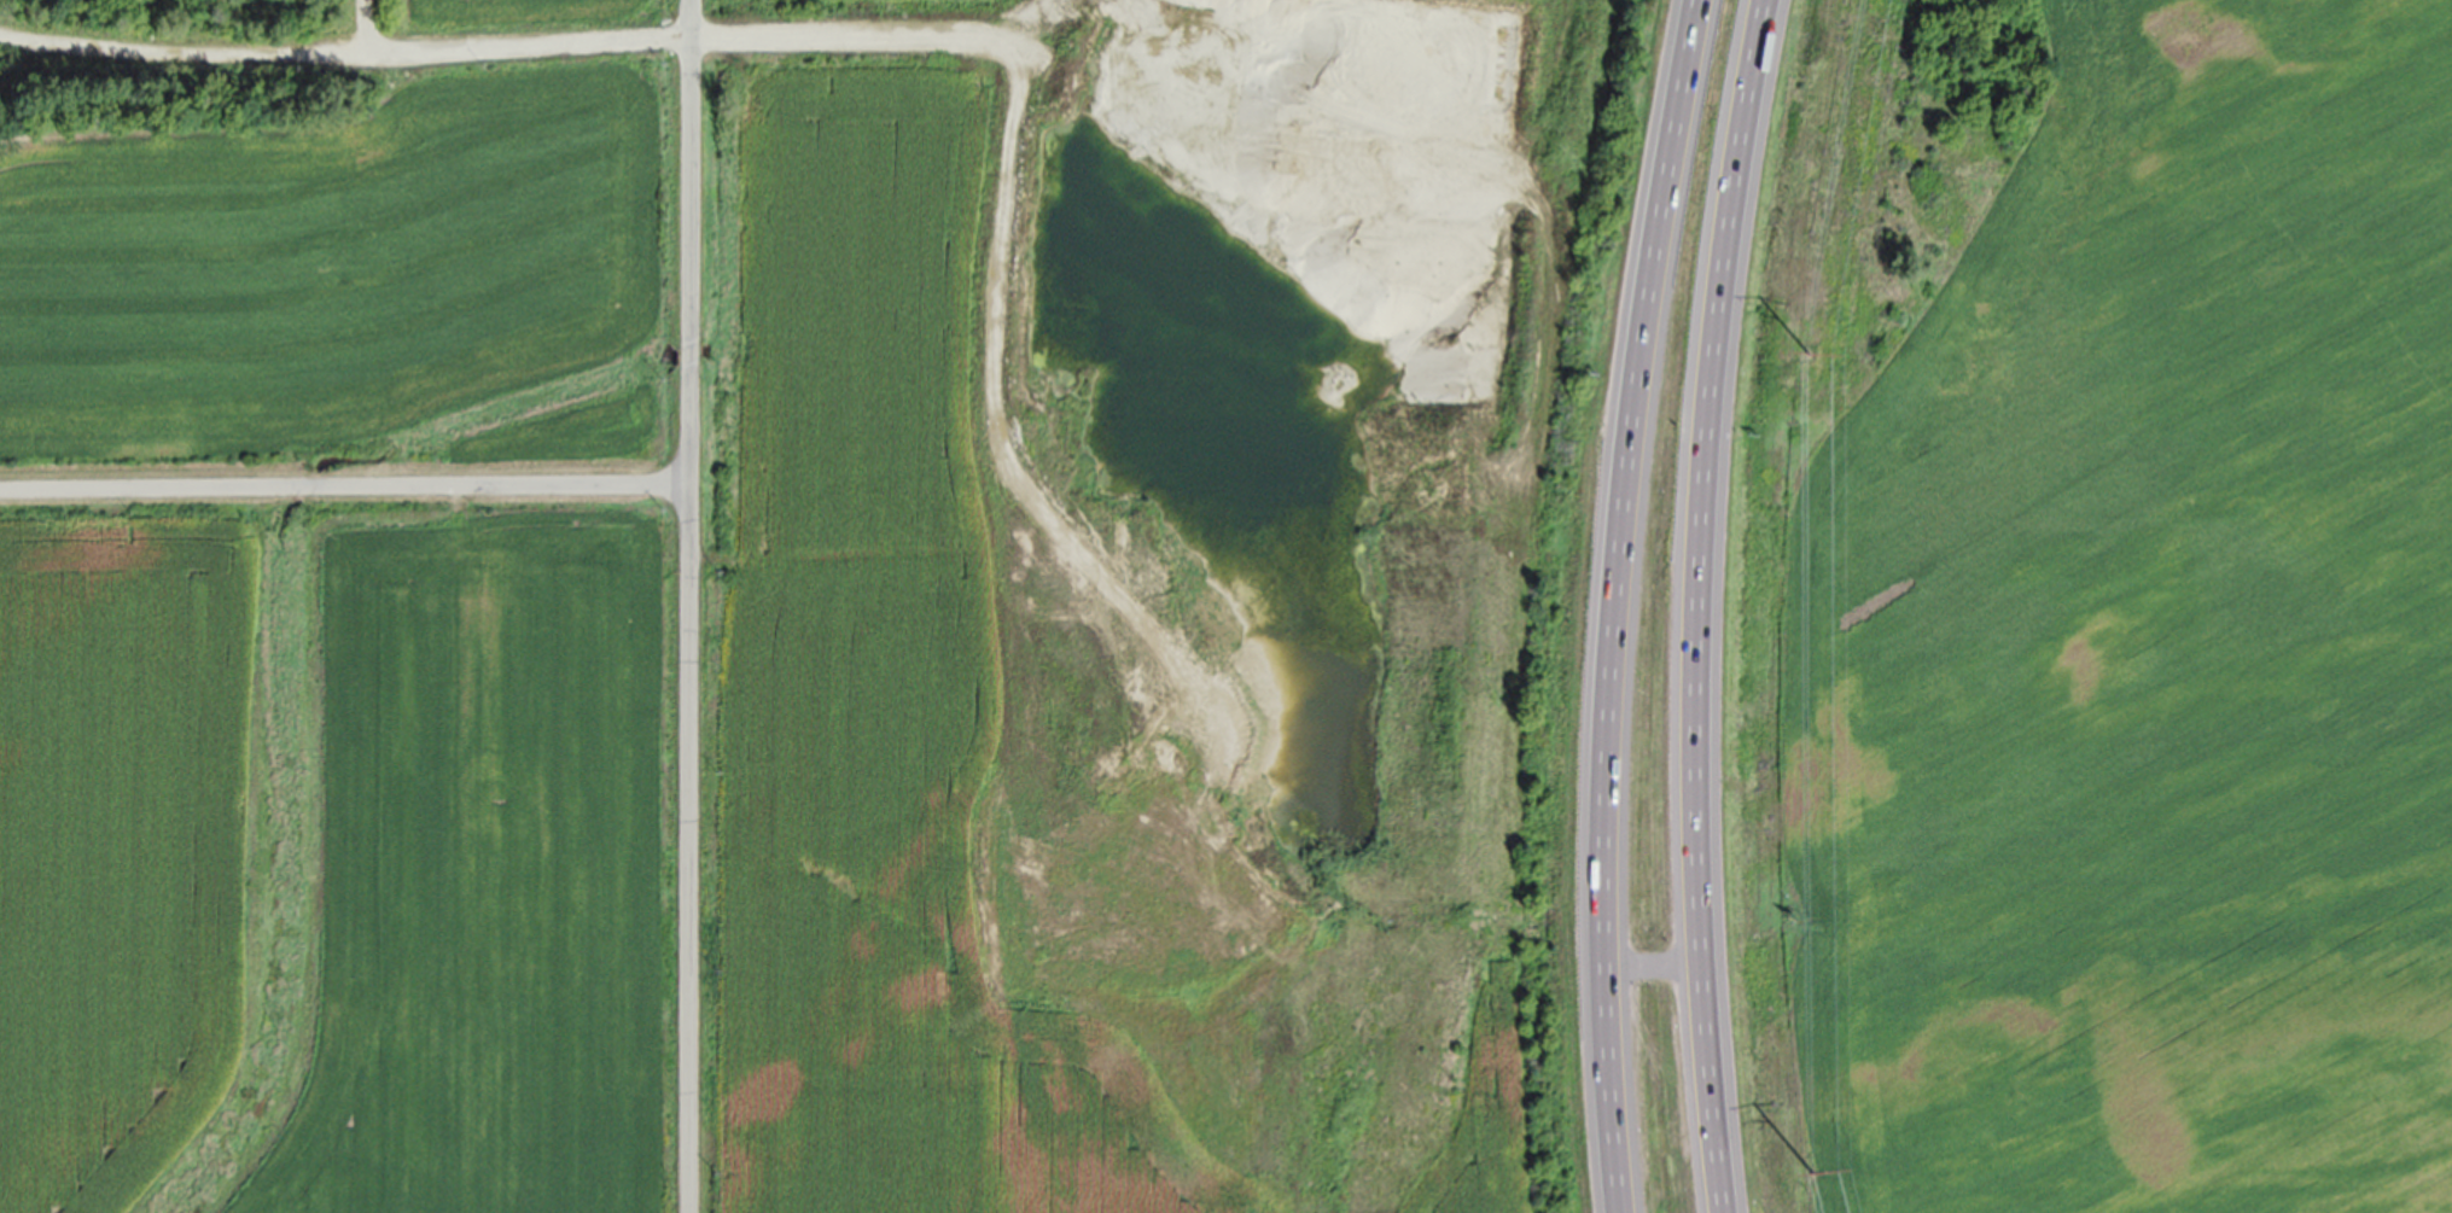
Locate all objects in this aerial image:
quarry: (177, 65)
power tower: (1807, 355)
road: (345, 486)
road: (1617, 603)
road: (1697, 605)
road: (691, 606)
road: (1653, 969)
power tower: (1813, 1174)

